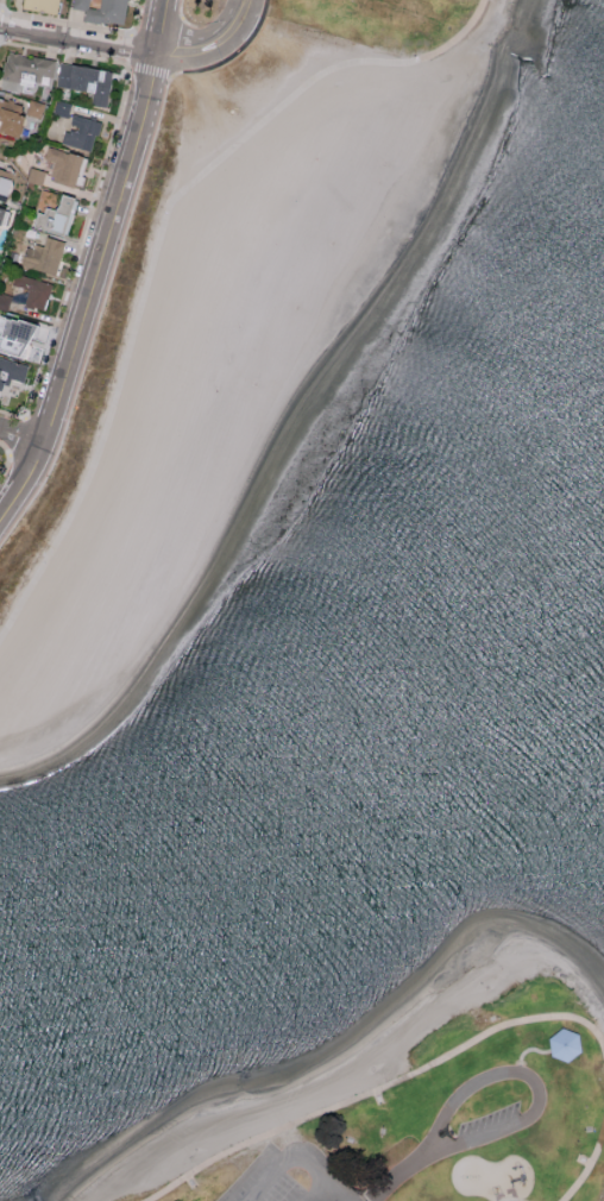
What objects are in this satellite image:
building: (40, 5)
building: (102, 11)
park: (370, 19)
road: (78, 40)
road: (212, 43)
building: (24, 69)
building: (70, 83)
building: (34, 107)
building: (10, 118)
building: (81, 132)
building: (64, 165)
building: (4, 182)
building: (1, 212)
building: (54, 215)
road: (159, 245)
building: (43, 254)
road: (95, 265)
building: (33, 290)
building: (14, 335)
road: (19, 442)
building: (564, 1043)
road: (377, 1090)
road: (467, 1092)
park: (417, 1105)
parking lot: (491, 1124)
road: (498, 1131)
road: (295, 1161)
road: (587, 1172)
parking lot: (290, 1177)
road: (399, 1178)
road: (320, 1193)

